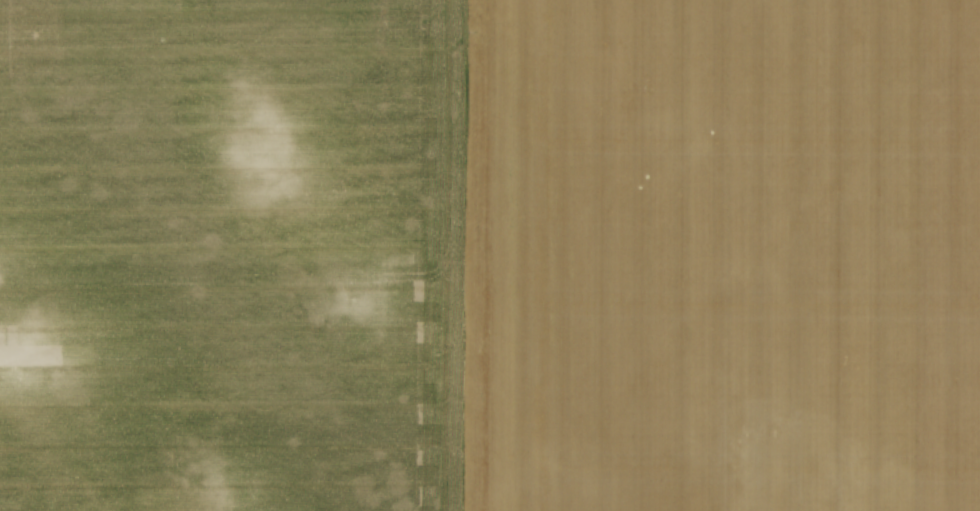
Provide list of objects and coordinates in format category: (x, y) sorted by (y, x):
crop: (490, 255)

